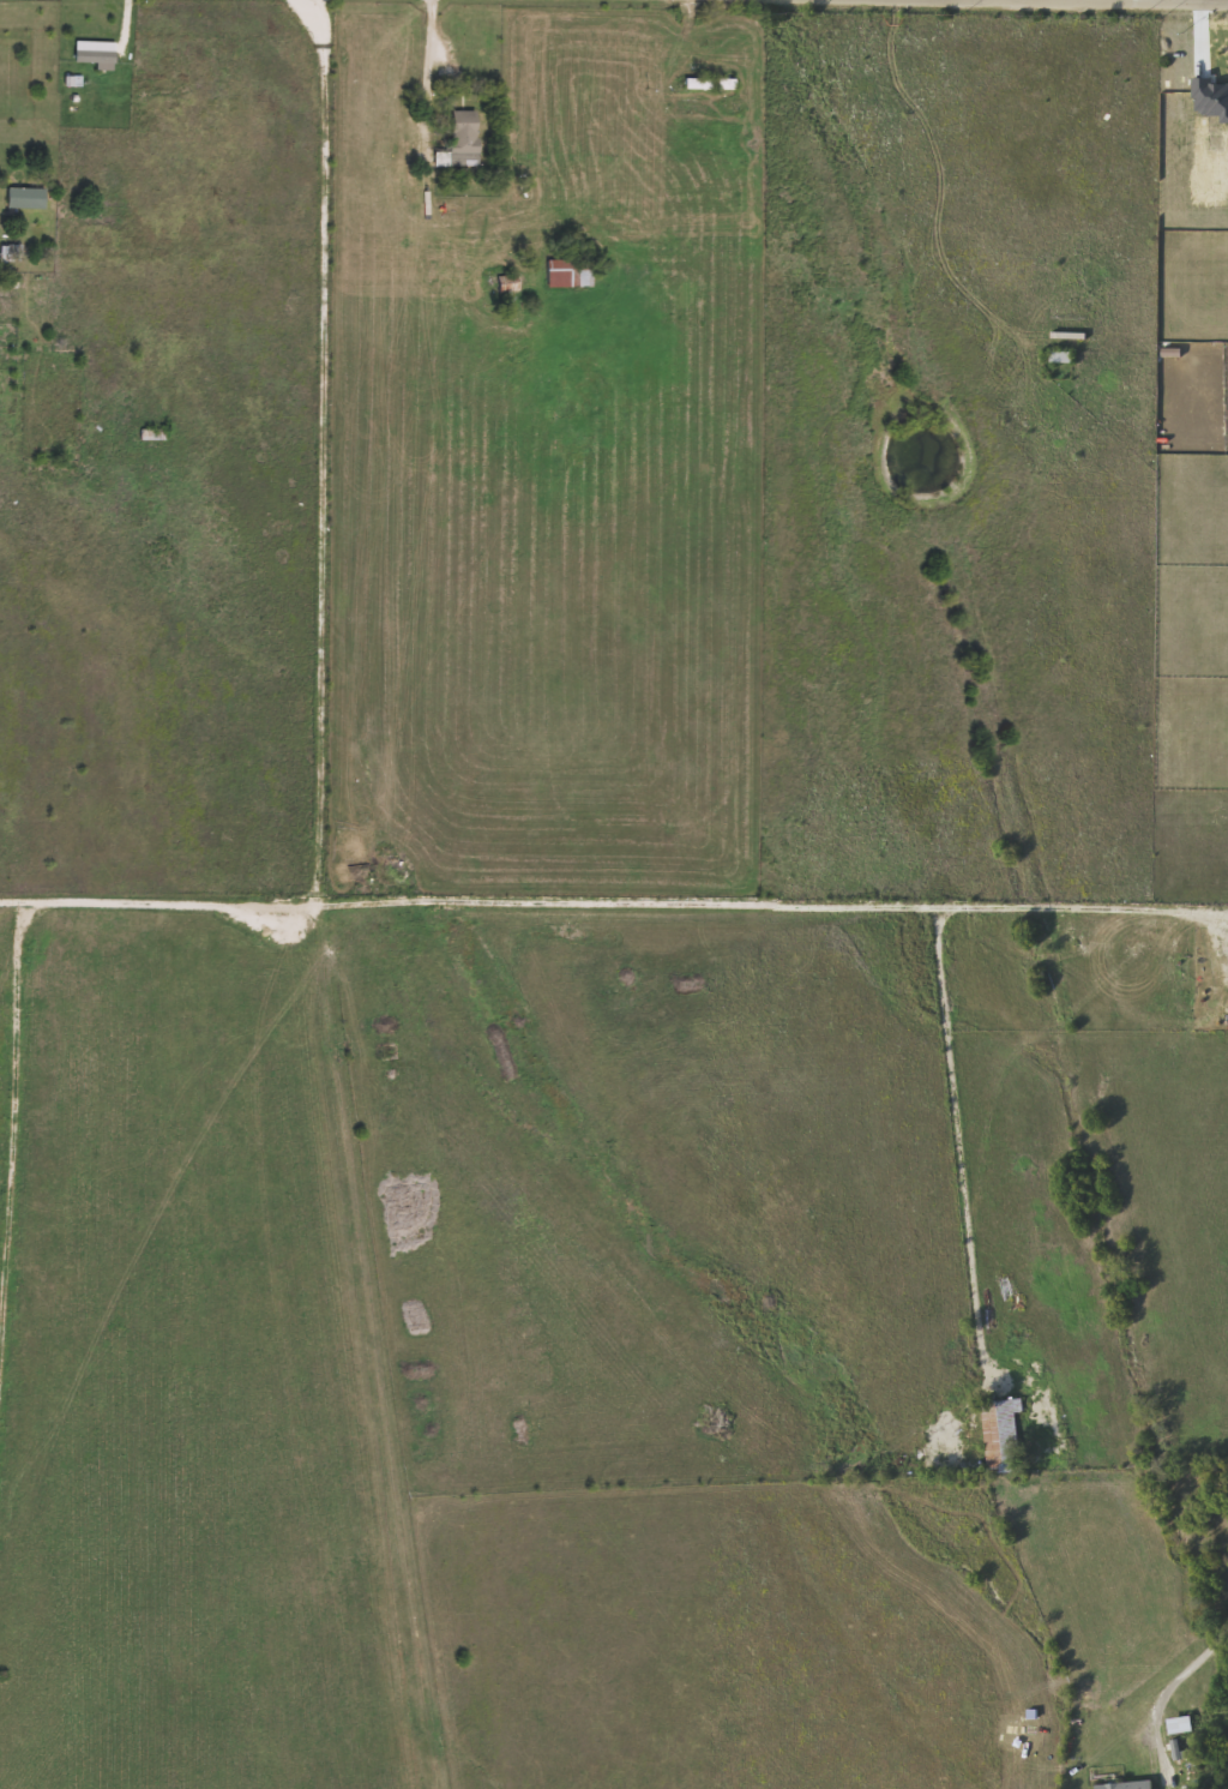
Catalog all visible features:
road: (1082, 0)
road: (1113, 1)
building: (98, 54)
road: (428, 70)
building: (710, 83)
building: (463, 140)
building: (29, 198)
building: (571, 272)
building: (1060, 355)
building: (153, 434)
road: (323, 449)
road: (159, 902)
road: (773, 903)
road: (956, 1142)
building: (1000, 1433)
road: (1168, 1686)
building: (1127, 1784)

